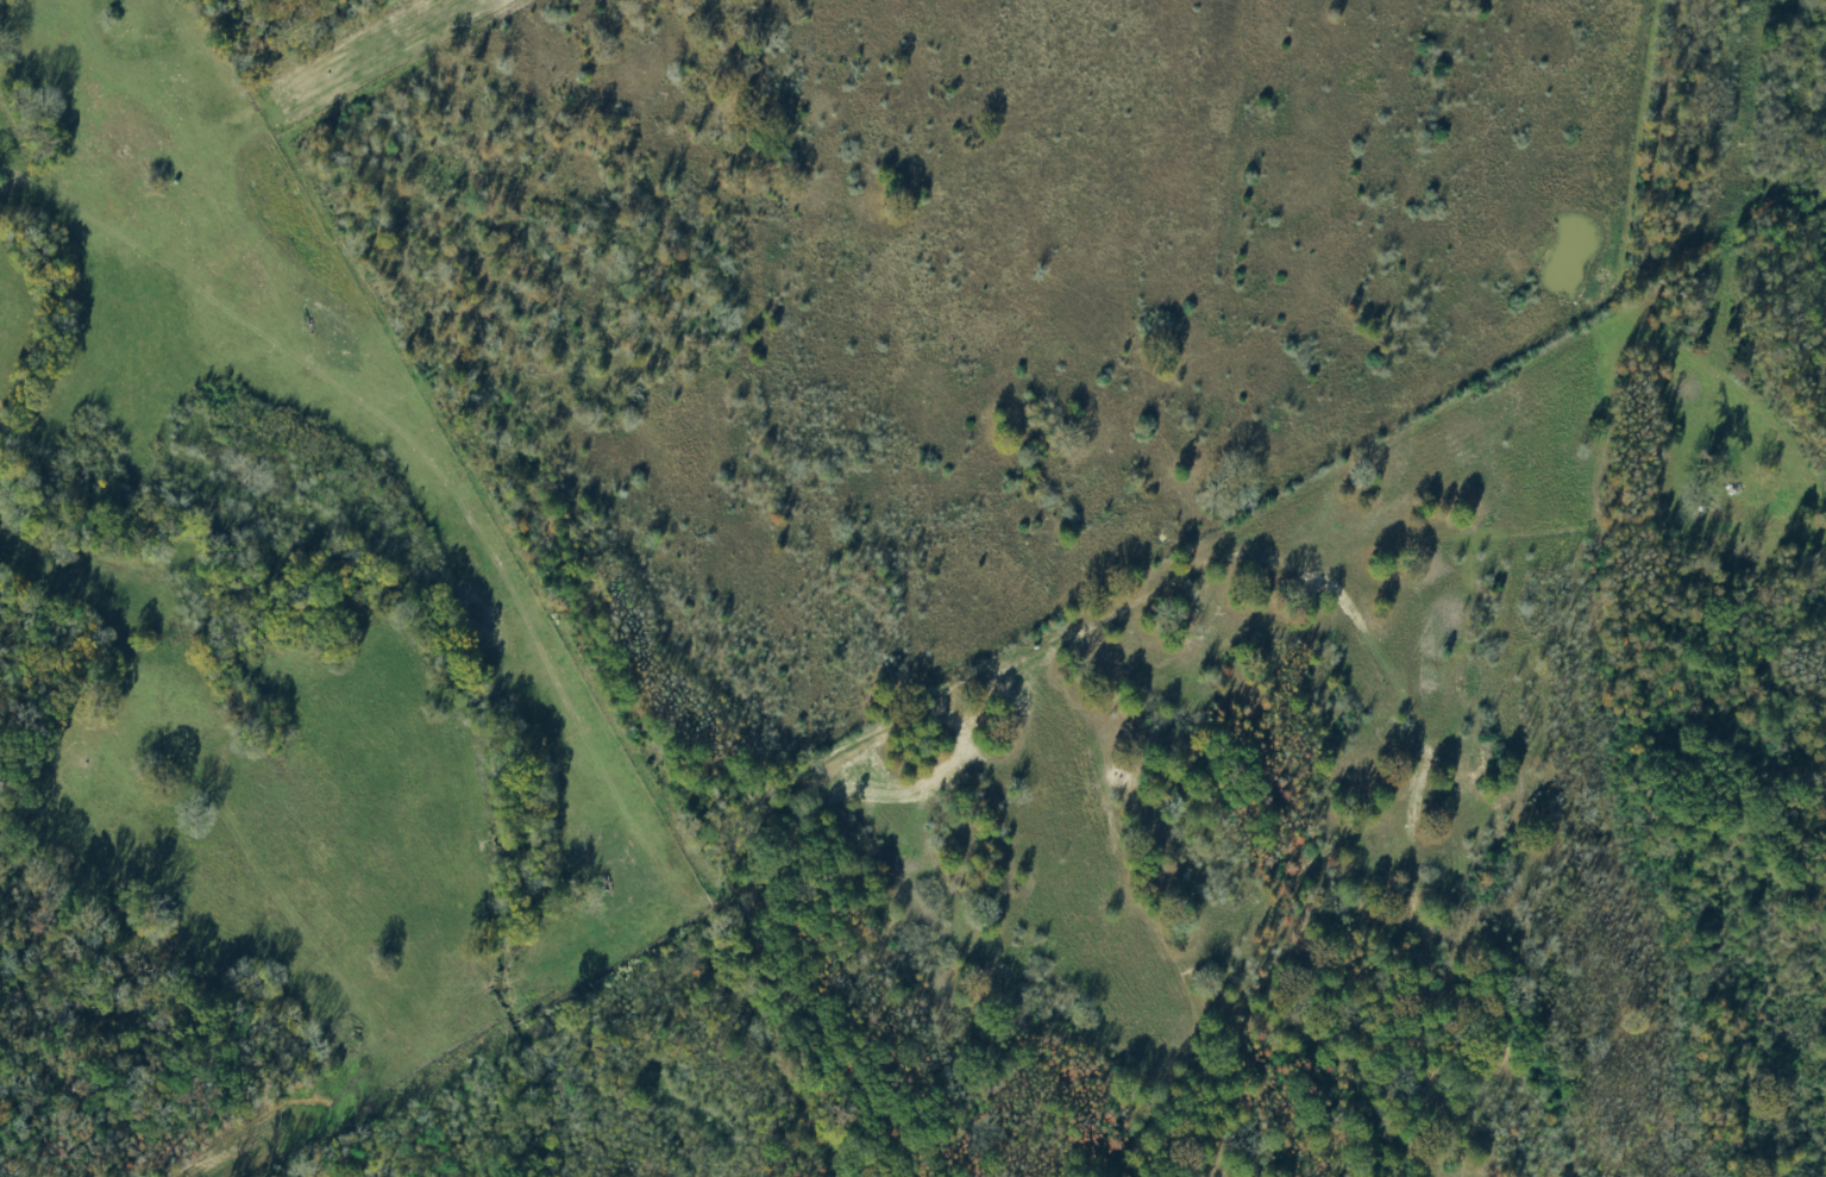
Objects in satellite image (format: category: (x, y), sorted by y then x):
road: (1619, 45)

